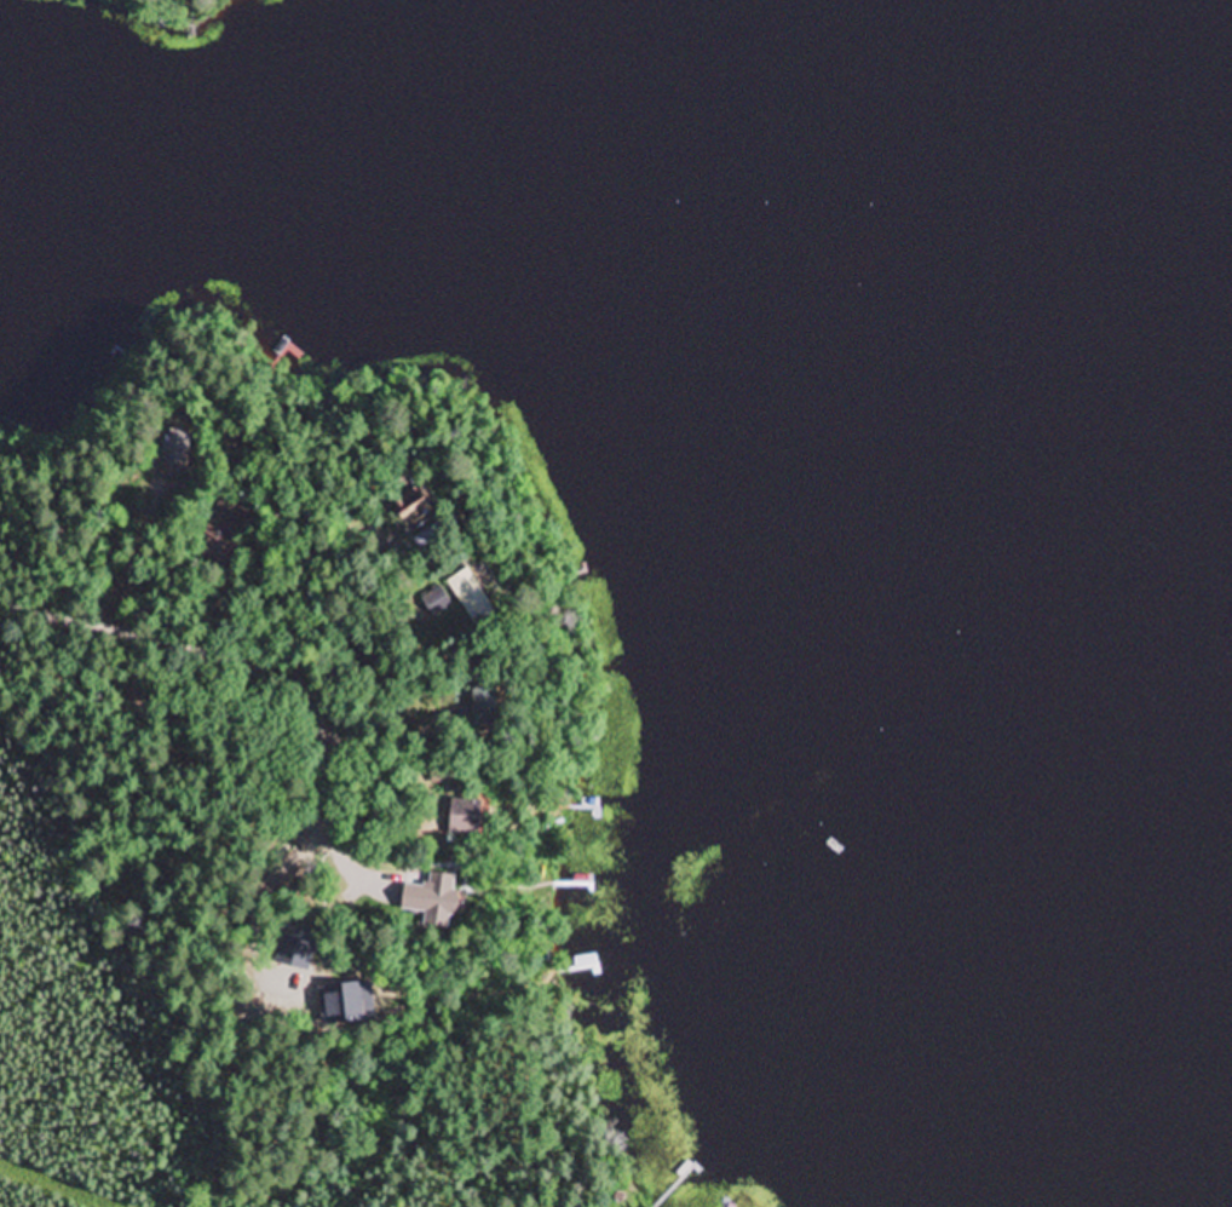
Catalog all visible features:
building: (177, 453)
building: (414, 506)
building: (220, 533)
building: (472, 594)
road: (226, 660)
building: (484, 691)
building: (442, 769)
building: (466, 816)
building: (432, 899)

